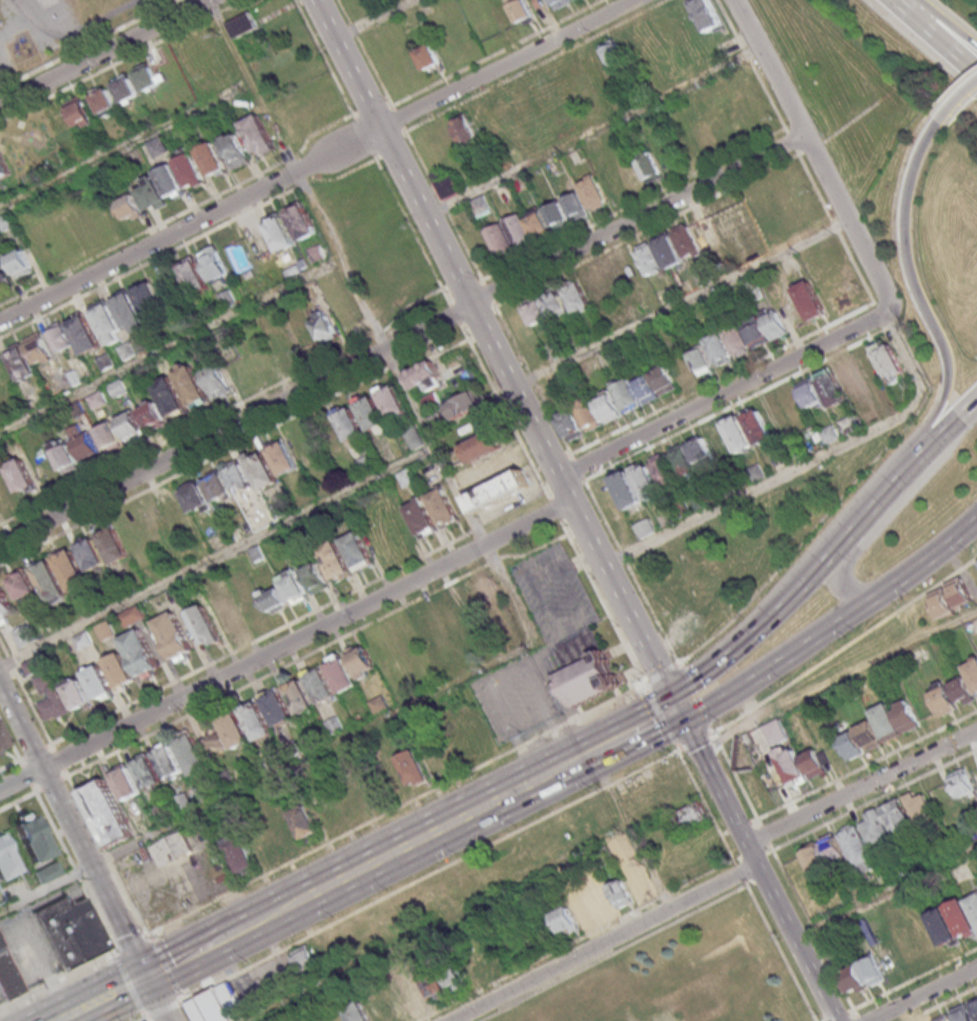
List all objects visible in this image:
building: (577, 0)
building: (562, 3)
road: (898, 7)
building: (522, 11)
building: (712, 15)
road: (375, 20)
building: (243, 26)
road: (942, 29)
road: (941, 45)
road: (92, 46)
road: (107, 53)
building: (613, 54)
road: (130, 56)
building: (429, 58)
road: (326, 59)
road: (756, 70)
building: (147, 77)
building: (126, 89)
road: (959, 93)
building: (103, 100)
building: (80, 112)
building: (466, 129)
road: (596, 131)
building: (259, 136)
road: (368, 137)
building: (448, 138)
road: (126, 147)
building: (158, 147)
building: (235, 151)
road: (823, 159)
building: (212, 160)
road: (319, 160)
building: (4, 168)
building: (649, 169)
building: (191, 172)
building: (171, 182)
building: (446, 185)
building: (592, 194)
building: (152, 195)
building: (480, 205)
building: (575, 207)
building: (129, 208)
building: (557, 216)
building: (300, 221)
building: (5, 222)
building: (725, 224)
road: (836, 224)
building: (538, 225)
building: (704, 230)
building: (518, 232)
building: (278, 233)
building: (686, 241)
building: (500, 242)
building: (668, 251)
building: (649, 260)
building: (20, 264)
building: (214, 265)
building: (4, 273)
road: (349, 275)
building: (703, 276)
building: (194, 277)
building: (612, 277)
building: (594, 288)
building: (752, 289)
building: (148, 299)
building: (227, 299)
building: (575, 299)
building: (809, 301)
building: (554, 303)
road: (684, 304)
road: (925, 310)
building: (536, 312)
building: (129, 313)
road: (890, 315)
building: (107, 325)
building: (775, 326)
road: (891, 327)
building: (323, 328)
road: (464, 330)
building: (85, 336)
building: (757, 336)
building: (302, 337)
building: (60, 338)
road: (405, 339)
building: (736, 341)
road: (171, 346)
building: (282, 349)
building: (39, 350)
building: (718, 350)
building: (126, 351)
building: (554, 351)
road: (496, 354)
building: (700, 361)
building: (105, 362)
building: (887, 363)
building: (22, 365)
building: (868, 369)
building: (849, 376)
building: (424, 377)
building: (74, 378)
building: (218, 381)
building: (664, 381)
road: (726, 381)
building: (194, 387)
building: (831, 388)
building: (118, 389)
building: (645, 391)
building: (809, 393)
building: (623, 394)
road: (720, 395)
building: (170, 397)
building: (96, 401)
building: (431, 403)
building: (394, 405)
building: (463, 406)
road: (732, 406)
building: (607, 408)
building: (77, 411)
road: (225, 411)
building: (772, 412)
building: (588, 415)
building: (153, 416)
building: (373, 416)
building: (437, 423)
building: (848, 425)
building: (130, 426)
building: (351, 426)
building: (571, 426)
building: (757, 428)
building: (738, 435)
building: (828, 435)
building: (109, 438)
building: (412, 438)
building: (85, 445)
road: (232, 447)
building: (481, 449)
building: (699, 449)
building: (65, 458)
road: (572, 458)
building: (286, 460)
building: (681, 462)
building: (365, 465)
road: (555, 465)
road: (807, 465)
road: (579, 468)
building: (663, 471)
building: (264, 472)
road: (540, 473)
building: (237, 475)
building: (21, 477)
building: (407, 479)
building: (645, 482)
building: (220, 488)
road: (576, 488)
building: (626, 491)
building: (499, 492)
building: (199, 499)
road: (836, 507)
building: (283, 508)
building: (443, 509)
road: (890, 513)
road: (561, 518)
building: (667, 518)
building: (422, 520)
building: (645, 529)
building: (113, 544)
road: (535, 550)
building: (357, 552)
building: (256, 554)
road: (827, 555)
building: (91, 556)
road: (219, 557)
road: (494, 560)
building: (334, 561)
building: (235, 566)
road: (631, 572)
building: (72, 573)
building: (315, 579)
building: (49, 581)
building: (21, 584)
building: (293, 588)
building: (958, 592)
building: (490, 593)
building: (274, 601)
building: (941, 602)
building: (4, 605)
building: (472, 609)
road: (608, 612)
building: (227, 615)
building: (132, 616)
building: (452, 622)
building: (205, 626)
road: (833, 626)
building: (105, 631)
building: (24, 636)
building: (174, 638)
road: (260, 639)
building: (83, 642)
road: (845, 646)
road: (287, 648)
road: (3, 649)
building: (141, 655)
road: (10, 661)
building: (361, 662)
building: (35, 665)
building: (970, 668)
building: (587, 669)
road: (274, 671)
building: (120, 673)
building: (341, 674)
road: (661, 675)
building: (99, 684)
building: (320, 685)
building: (961, 689)
building: (76, 695)
building: (299, 696)
road: (696, 696)
building: (52, 697)
building: (942, 699)
building: (378, 705)
building: (277, 707)
traffic signals: (679, 708)
road: (32, 710)
building: (905, 715)
building: (885, 718)
road: (661, 719)
building: (256, 720)
road: (653, 721)
building: (334, 726)
building: (235, 731)
building: (774, 731)
building: (868, 735)
building: (216, 740)
road: (694, 740)
building: (3, 741)
road: (10, 743)
building: (851, 745)
building: (291, 748)
road: (32, 751)
road: (314, 753)
building: (193, 756)
road: (56, 760)
building: (167, 761)
road: (11, 763)
building: (813, 763)
building: (791, 764)
road: (867, 764)
building: (414, 770)
road: (63, 772)
building: (148, 774)
road: (734, 774)
road: (25, 775)
building: (961, 782)
road: (49, 784)
building: (125, 785)
road: (31, 788)
road: (863, 788)
building: (204, 793)
road: (19, 798)
road: (870, 799)
building: (183, 804)
road: (706, 805)
building: (920, 808)
road: (396, 812)
building: (108, 813)
building: (162, 814)
building: (690, 816)
building: (898, 819)
road: (753, 820)
road: (758, 821)
building: (304, 824)
road: (738, 825)
road: (75, 827)
building: (285, 830)
road: (630, 831)
road: (724, 831)
building: (876, 831)
road: (764, 834)
building: (31, 836)
road: (419, 840)
building: (832, 846)
building: (173, 850)
building: (857, 850)
road: (746, 853)
road: (760, 854)
building: (240, 855)
road: (109, 856)
building: (814, 859)
building: (6, 860)
road: (758, 864)
road: (75, 869)
building: (47, 872)
road: (741, 872)
building: (959, 872)
road: (426, 874)
building: (636, 877)
road: (758, 877)
road: (886, 892)
building: (973, 905)
building: (592, 906)
building: (961, 917)
road: (811, 925)
building: (943, 925)
building: (73, 931)
road: (577, 938)
road: (130, 940)
road: (603, 942)
road: (116, 948)
road: (113, 950)
road: (615, 950)
road: (781, 951)
road: (113, 955)
building: (304, 957)
road: (179, 960)
road: (165, 965)
building: (872, 971)
traffic signals: (149, 976)
building: (455, 977)
building: (852, 978)
road: (911, 979)
building: (8, 980)
road: (55, 980)
building: (432, 982)
road: (128, 984)
road: (119, 991)
building: (413, 991)
road: (923, 994)
road: (160, 998)
building: (698, 998)
road: (940, 1003)
building: (215, 1005)
road: (184, 1006)
road: (164, 1007)
building: (368, 1009)
building: (966, 1011)
road: (855, 1012)
road: (74, 1013)
road: (92, 1013)
road: (146, 1014)
road: (143, 1016)
road: (836, 1016)
building: (523, 1018)
road: (858, 1018)
building: (944, 1018)
building: (272, 1019)
road: (824, 1020)

